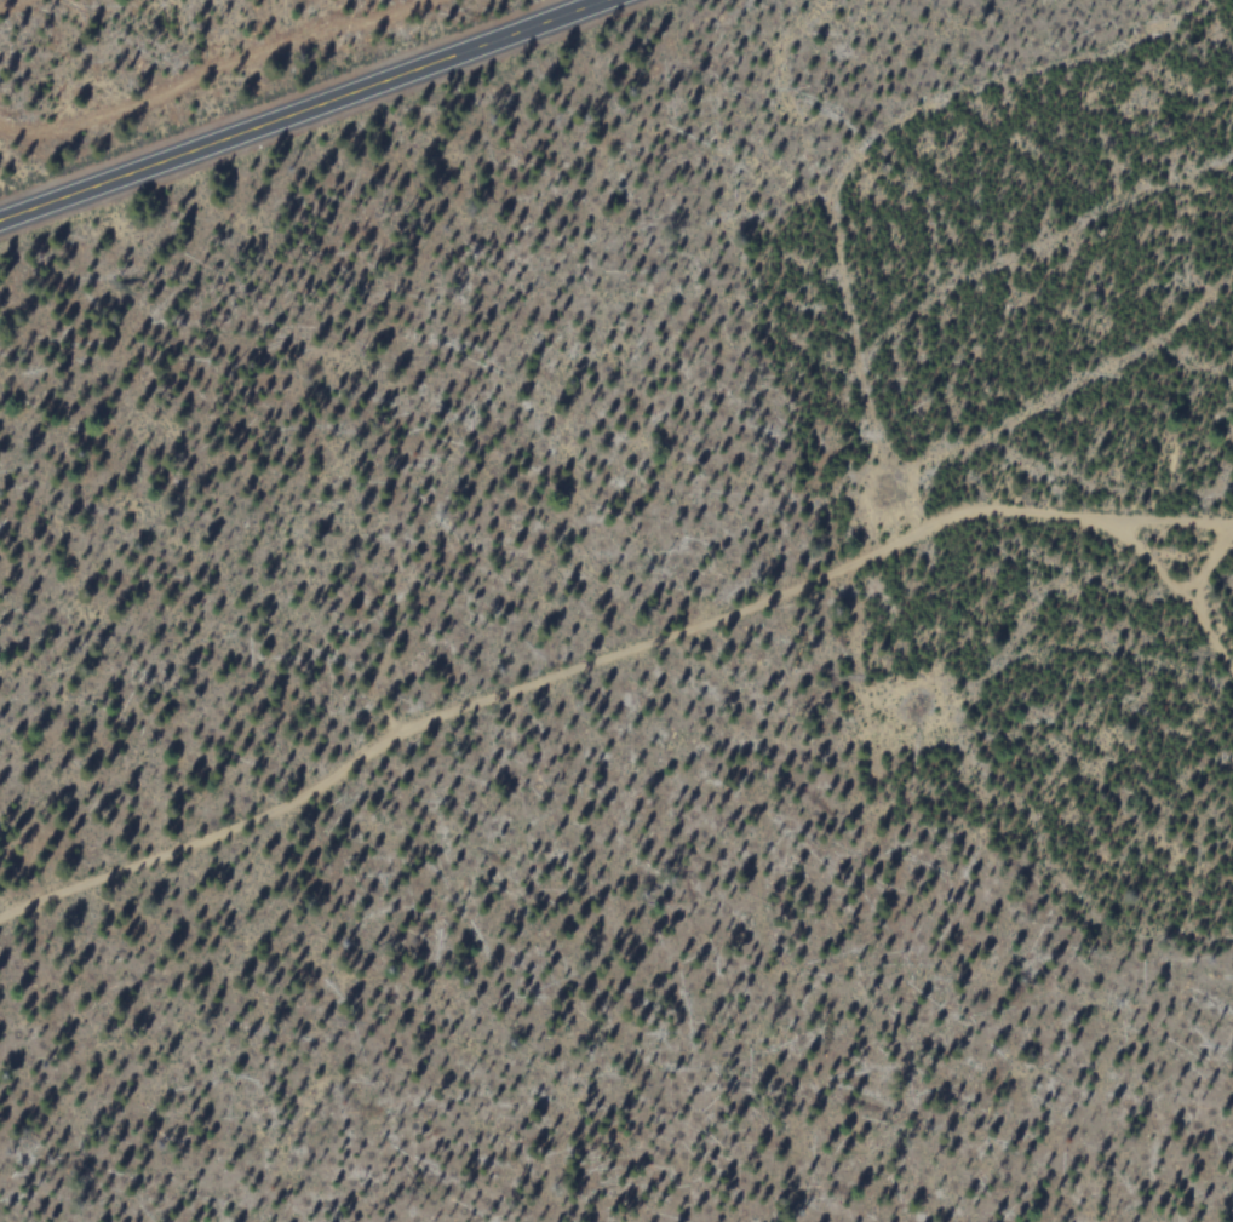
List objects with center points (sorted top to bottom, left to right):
road: (304, 110)
road: (1175, 609)
road: (598, 658)

